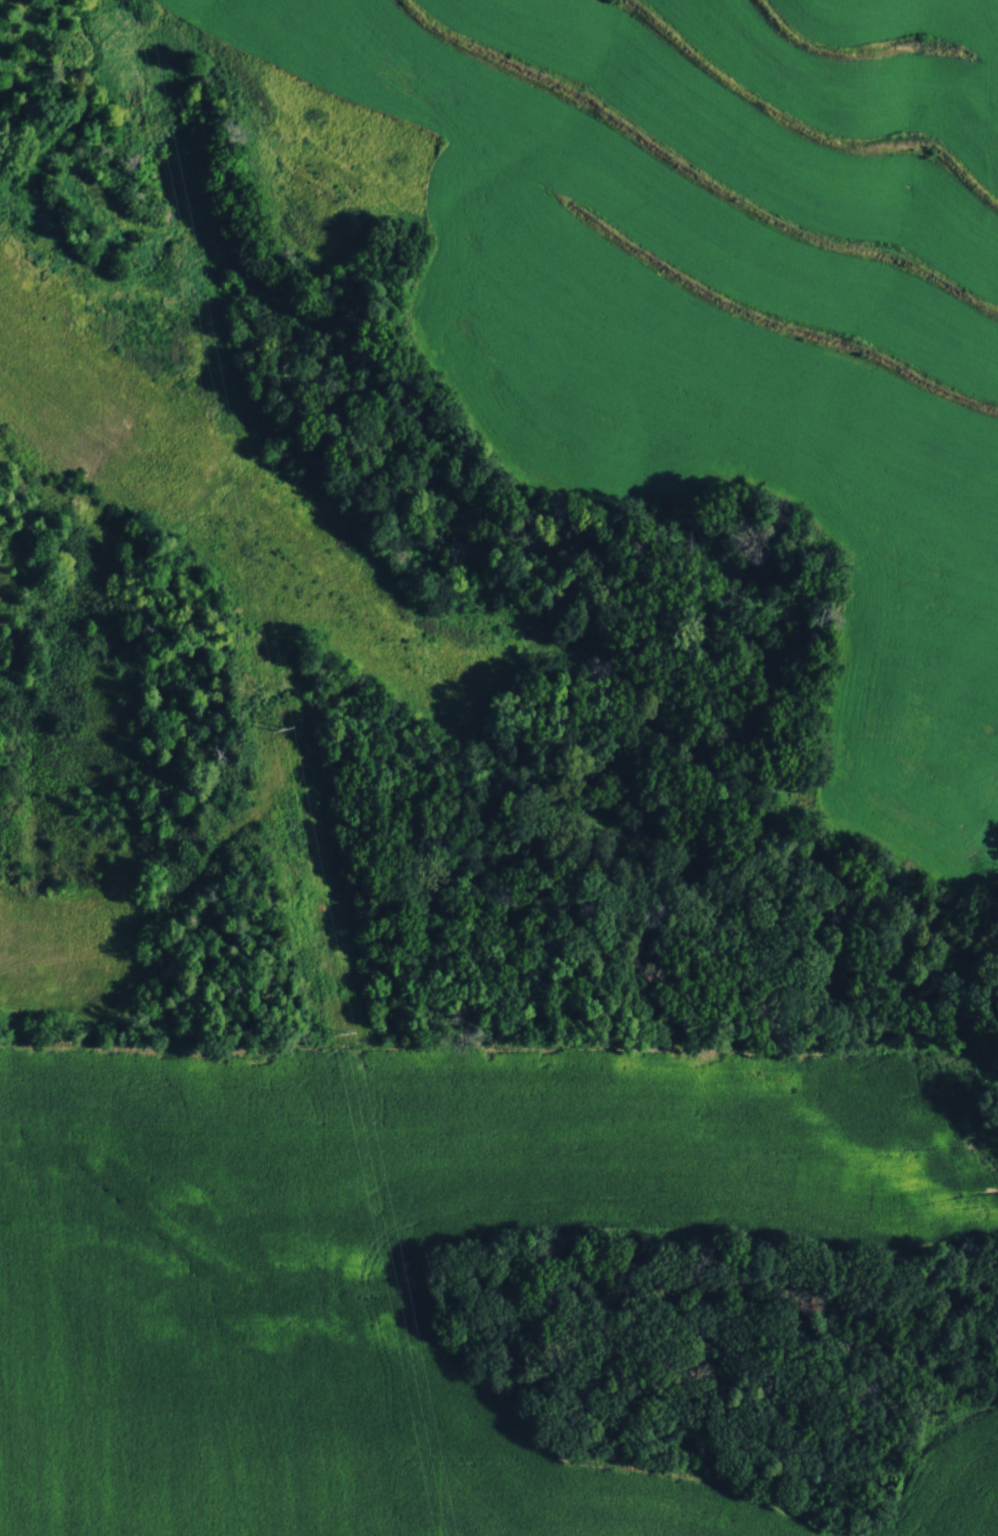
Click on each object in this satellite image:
power tower: (282, 726)
power tower: (343, 1027)

